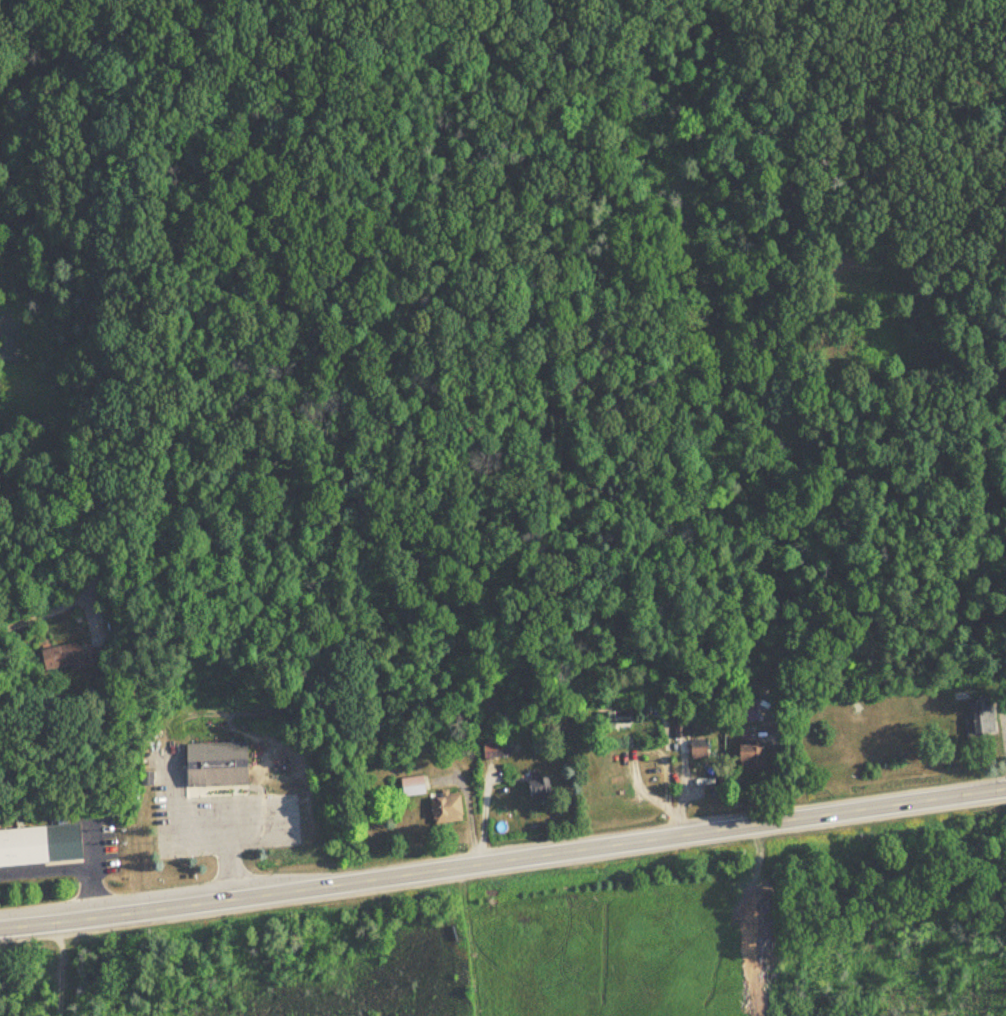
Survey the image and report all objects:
road: (107, 532)
building: (95, 654)
building: (59, 656)
building: (745, 709)
building: (981, 715)
building: (613, 719)
building: (679, 729)
building: (697, 750)
building: (749, 756)
building: (214, 764)
road: (626, 765)
road: (666, 779)
building: (411, 786)
building: (539, 794)
building: (444, 809)
road: (195, 827)
building: (39, 845)
road: (229, 851)
road: (569, 852)
road: (43, 870)
road: (93, 894)
road: (66, 922)
road: (57, 969)

